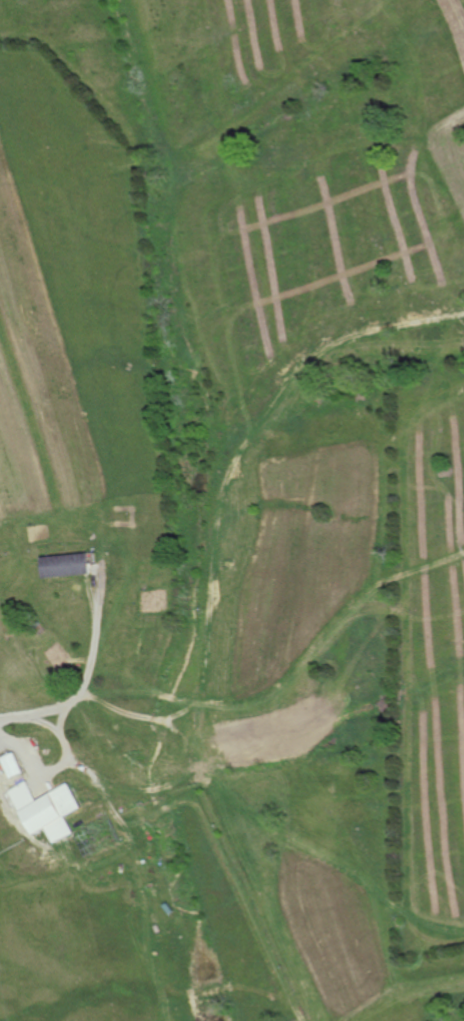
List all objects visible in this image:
building: (63, 566)
road: (87, 676)
building: (13, 766)
building: (48, 811)

